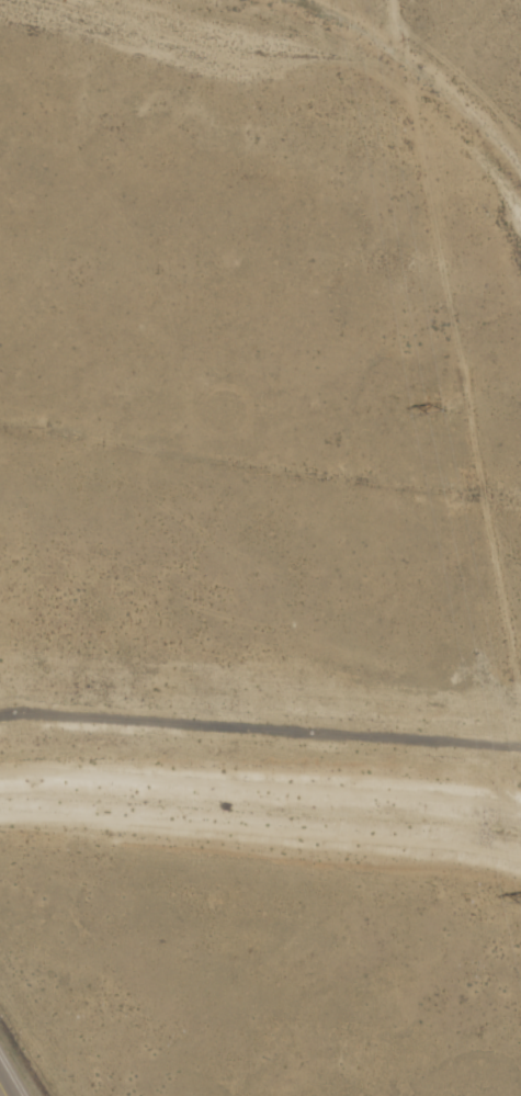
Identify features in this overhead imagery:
power tower: (438, 409)
road: (7, 1085)

